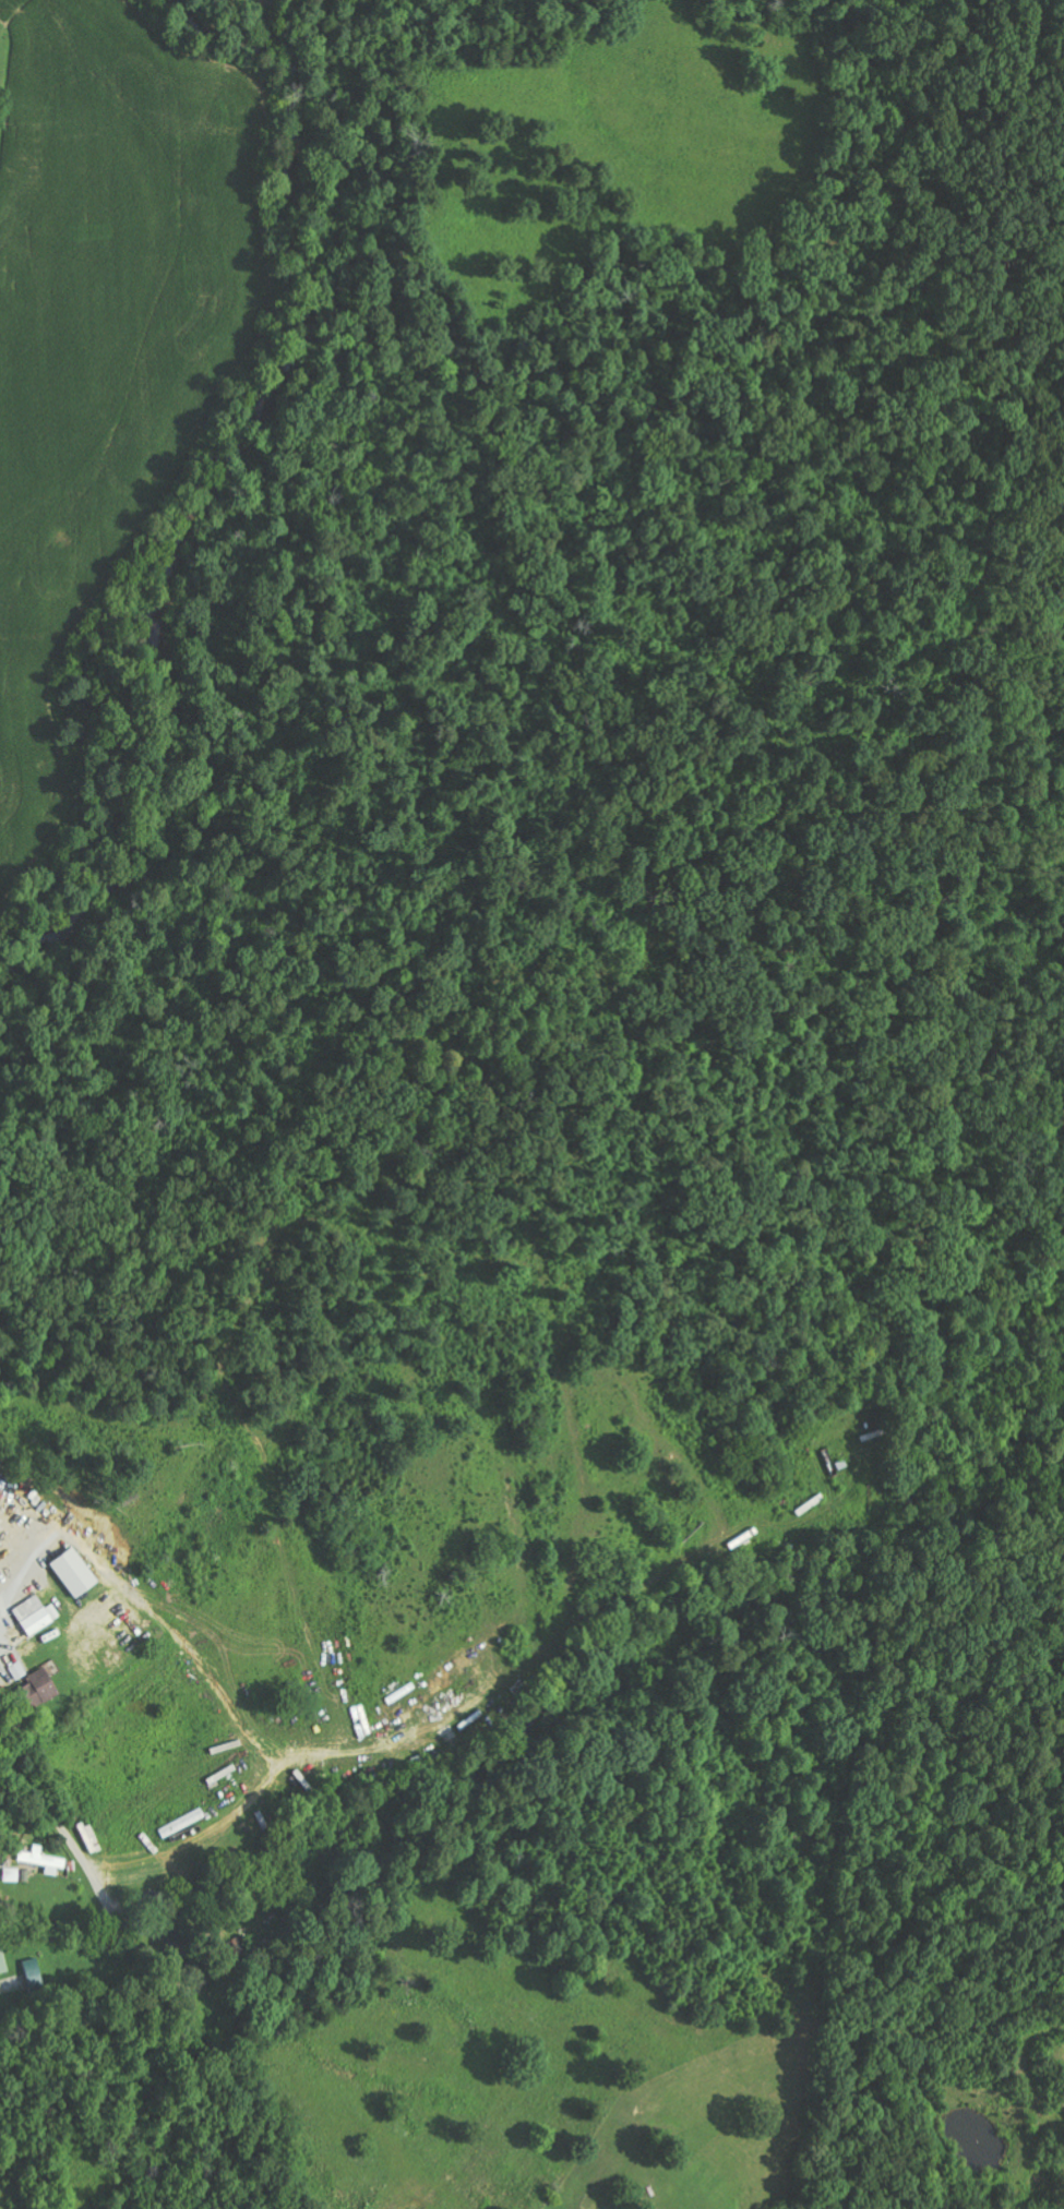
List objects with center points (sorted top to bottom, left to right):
road: (346, 1287)
building: (76, 1573)
building: (37, 1614)
building: (40, 1689)
building: (44, 1860)
building: (3, 1961)
building: (35, 1974)

